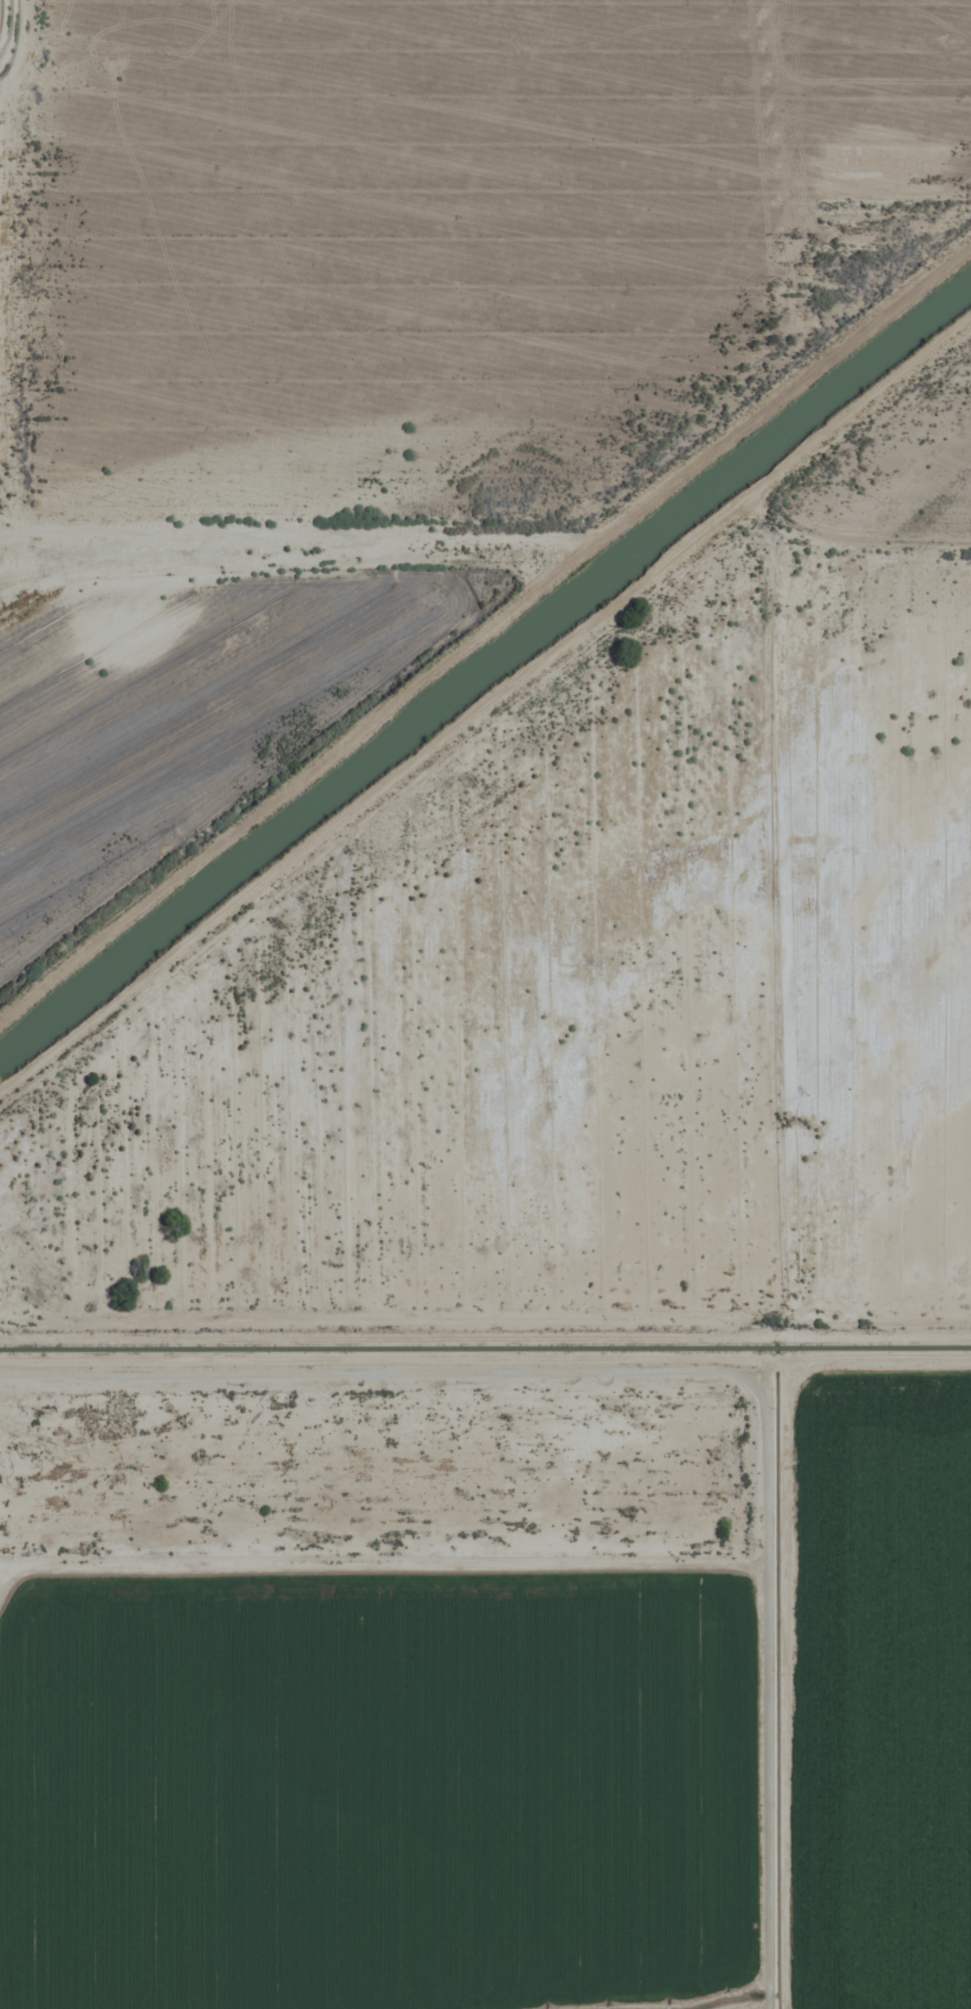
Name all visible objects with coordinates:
crop: (484, 996)

